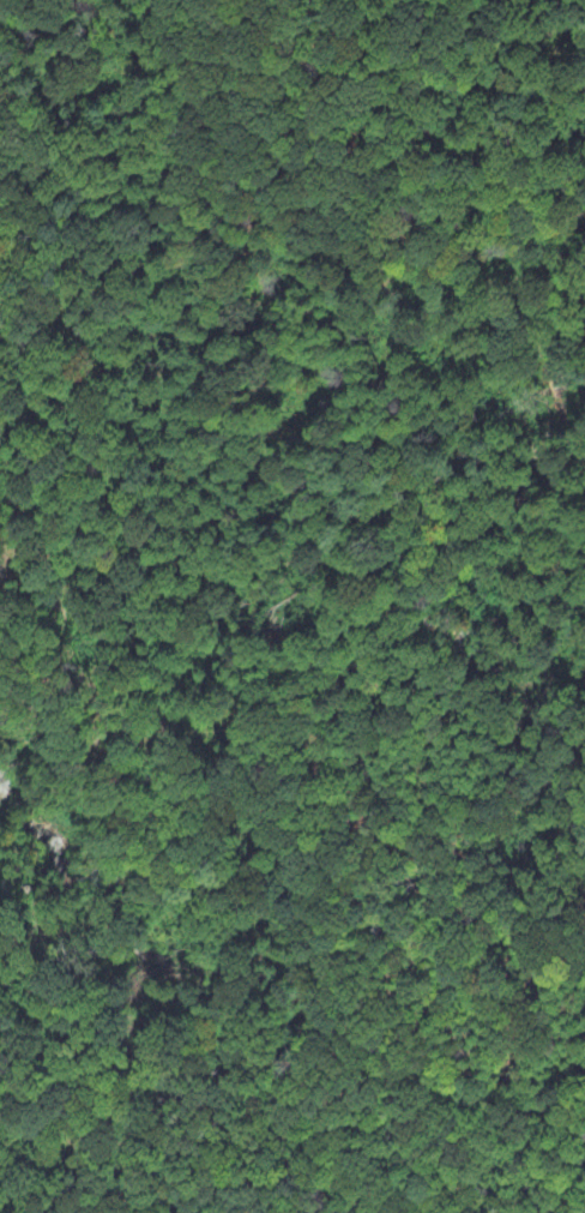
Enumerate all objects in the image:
park: (230, 1117)

